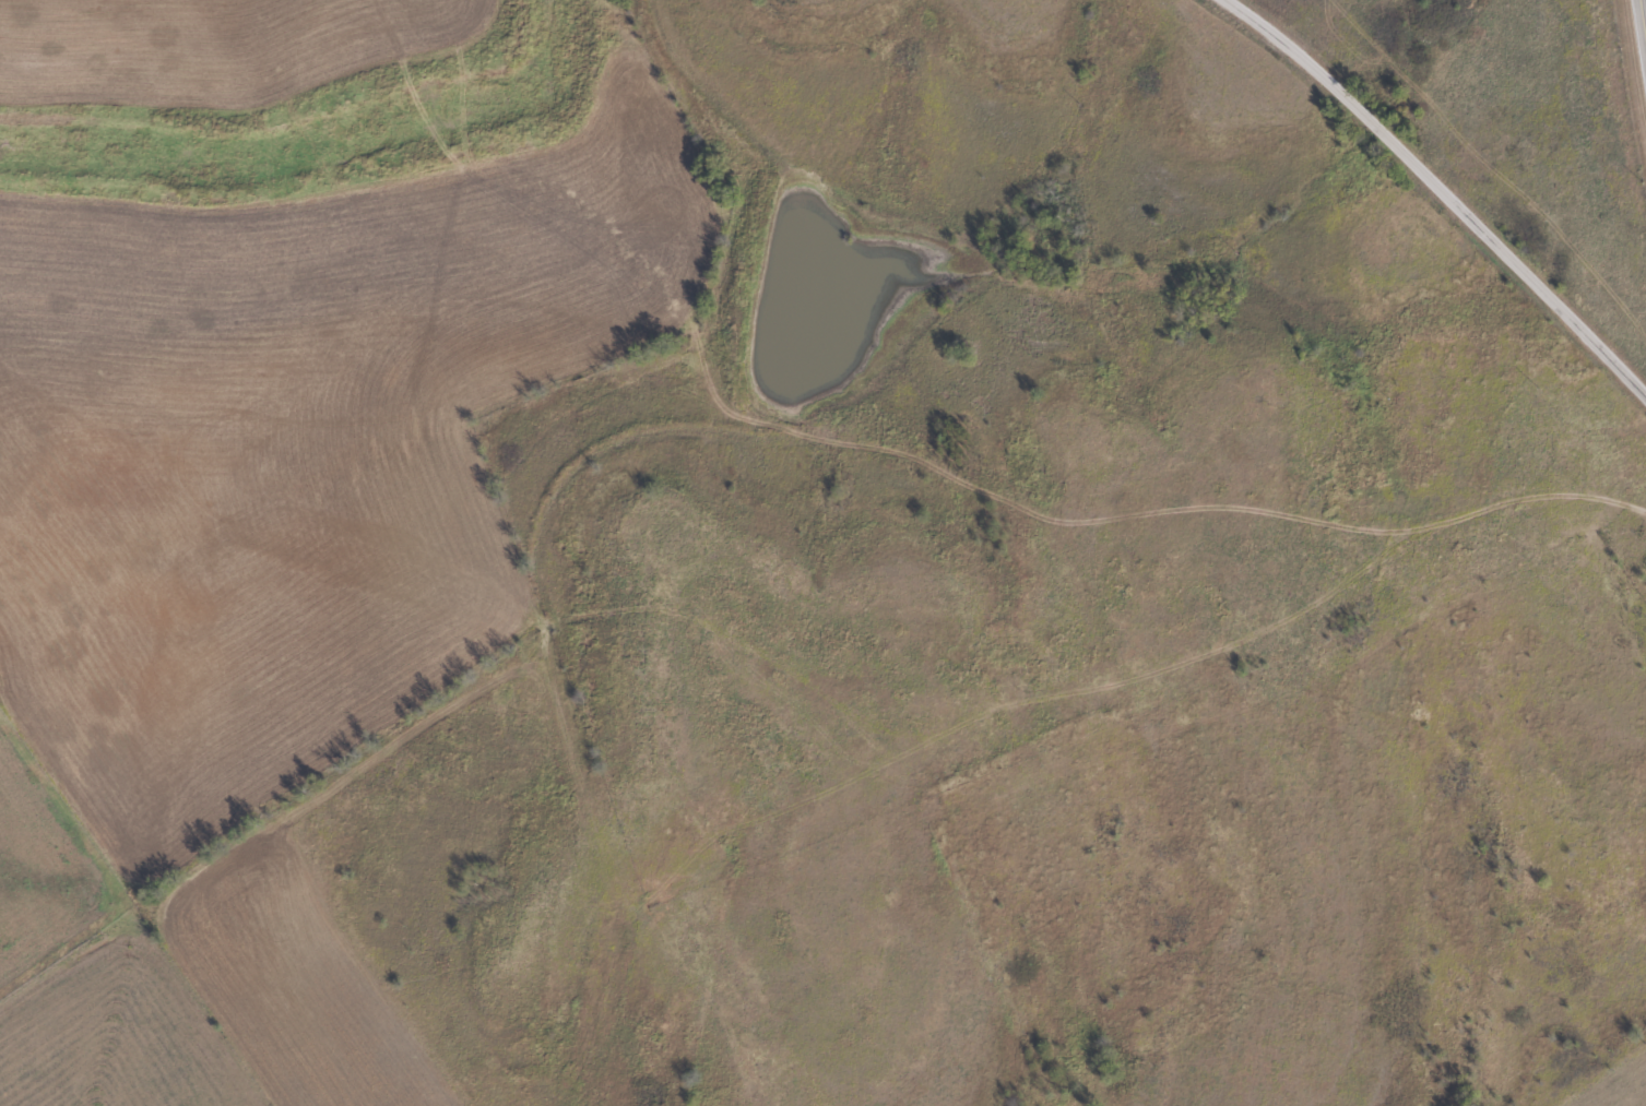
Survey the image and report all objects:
road: (1644, 12)
road: (1438, 197)

